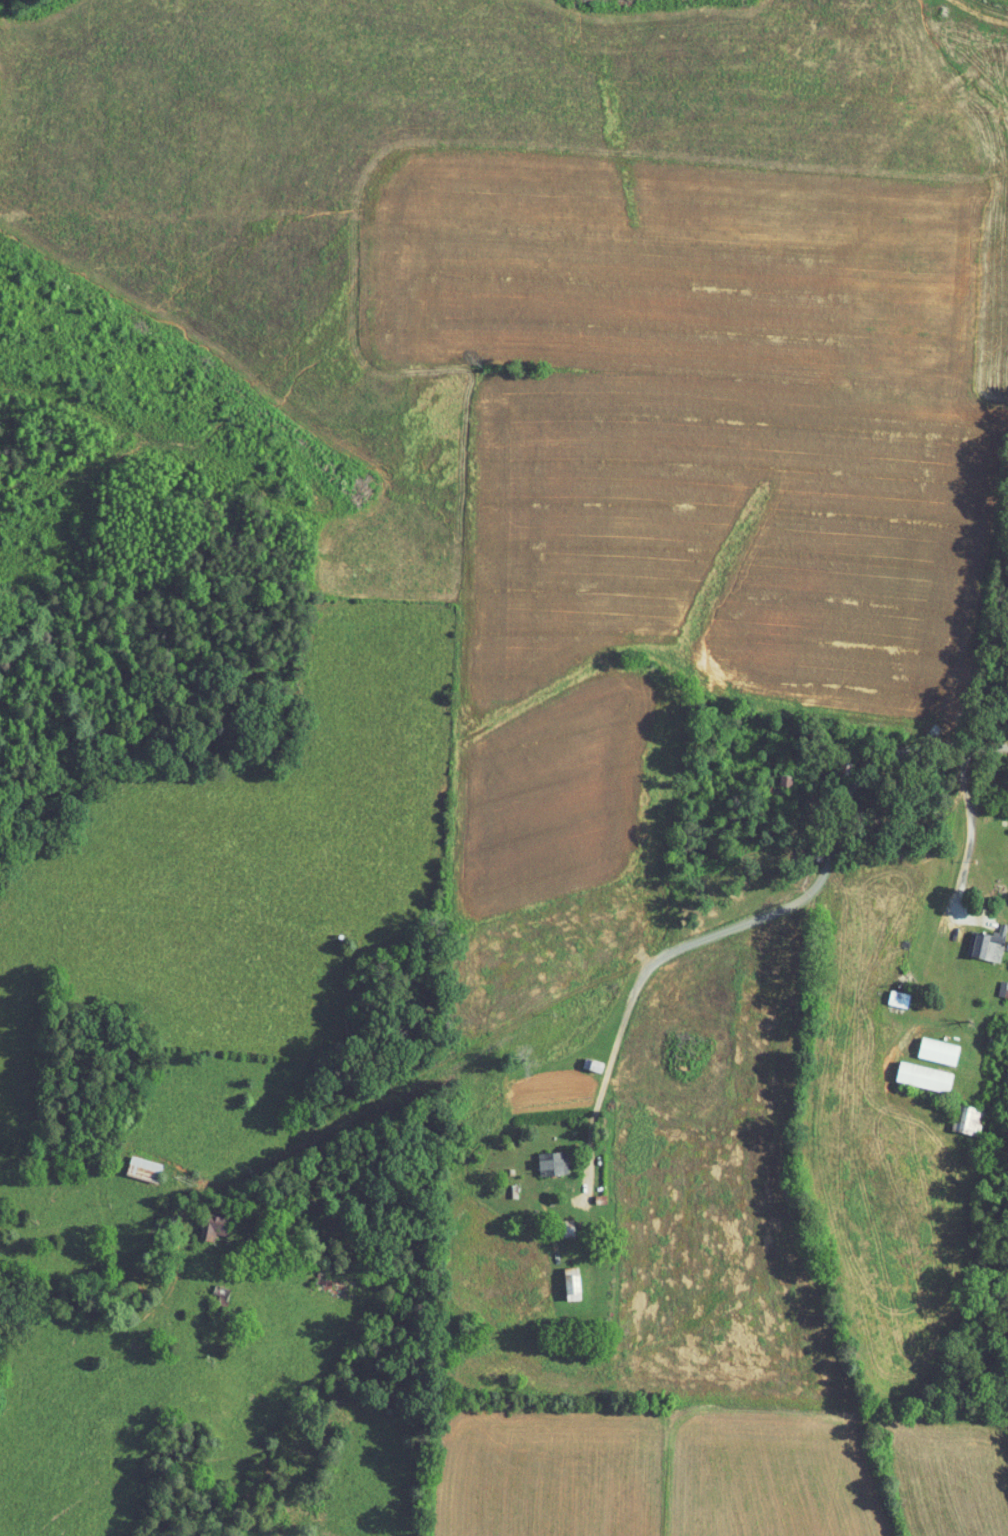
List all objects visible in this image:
building: (775, 774)
road: (957, 829)
road: (793, 902)
building: (979, 938)
building: (997, 983)
building: (888, 991)
road: (728, 1007)
building: (928, 1044)
building: (914, 1070)
building: (960, 1113)
building: (542, 1156)
building: (133, 1162)
building: (202, 1220)
building: (562, 1277)

